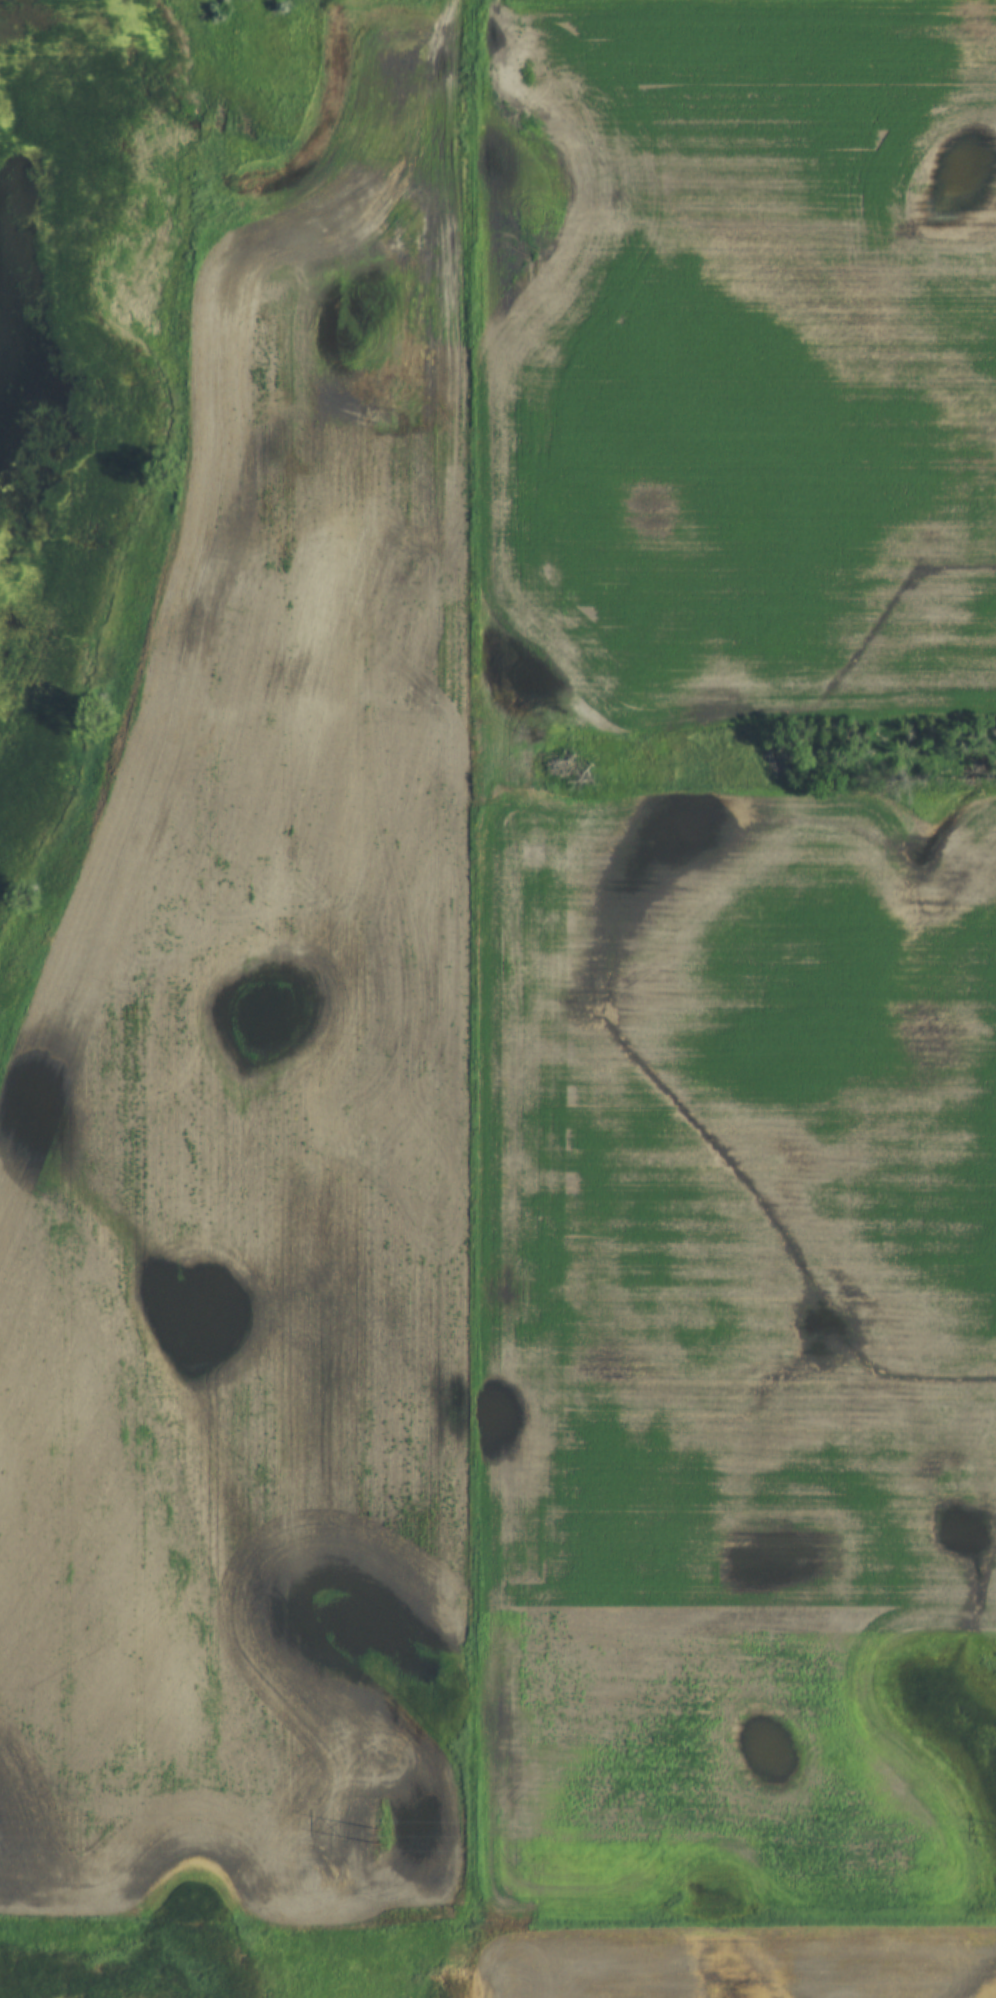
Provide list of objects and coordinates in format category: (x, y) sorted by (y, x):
crop: (734, 362)
crop: (262, 1119)
crop: (738, 1370)
power tower: (379, 1832)
crop: (735, 1963)

